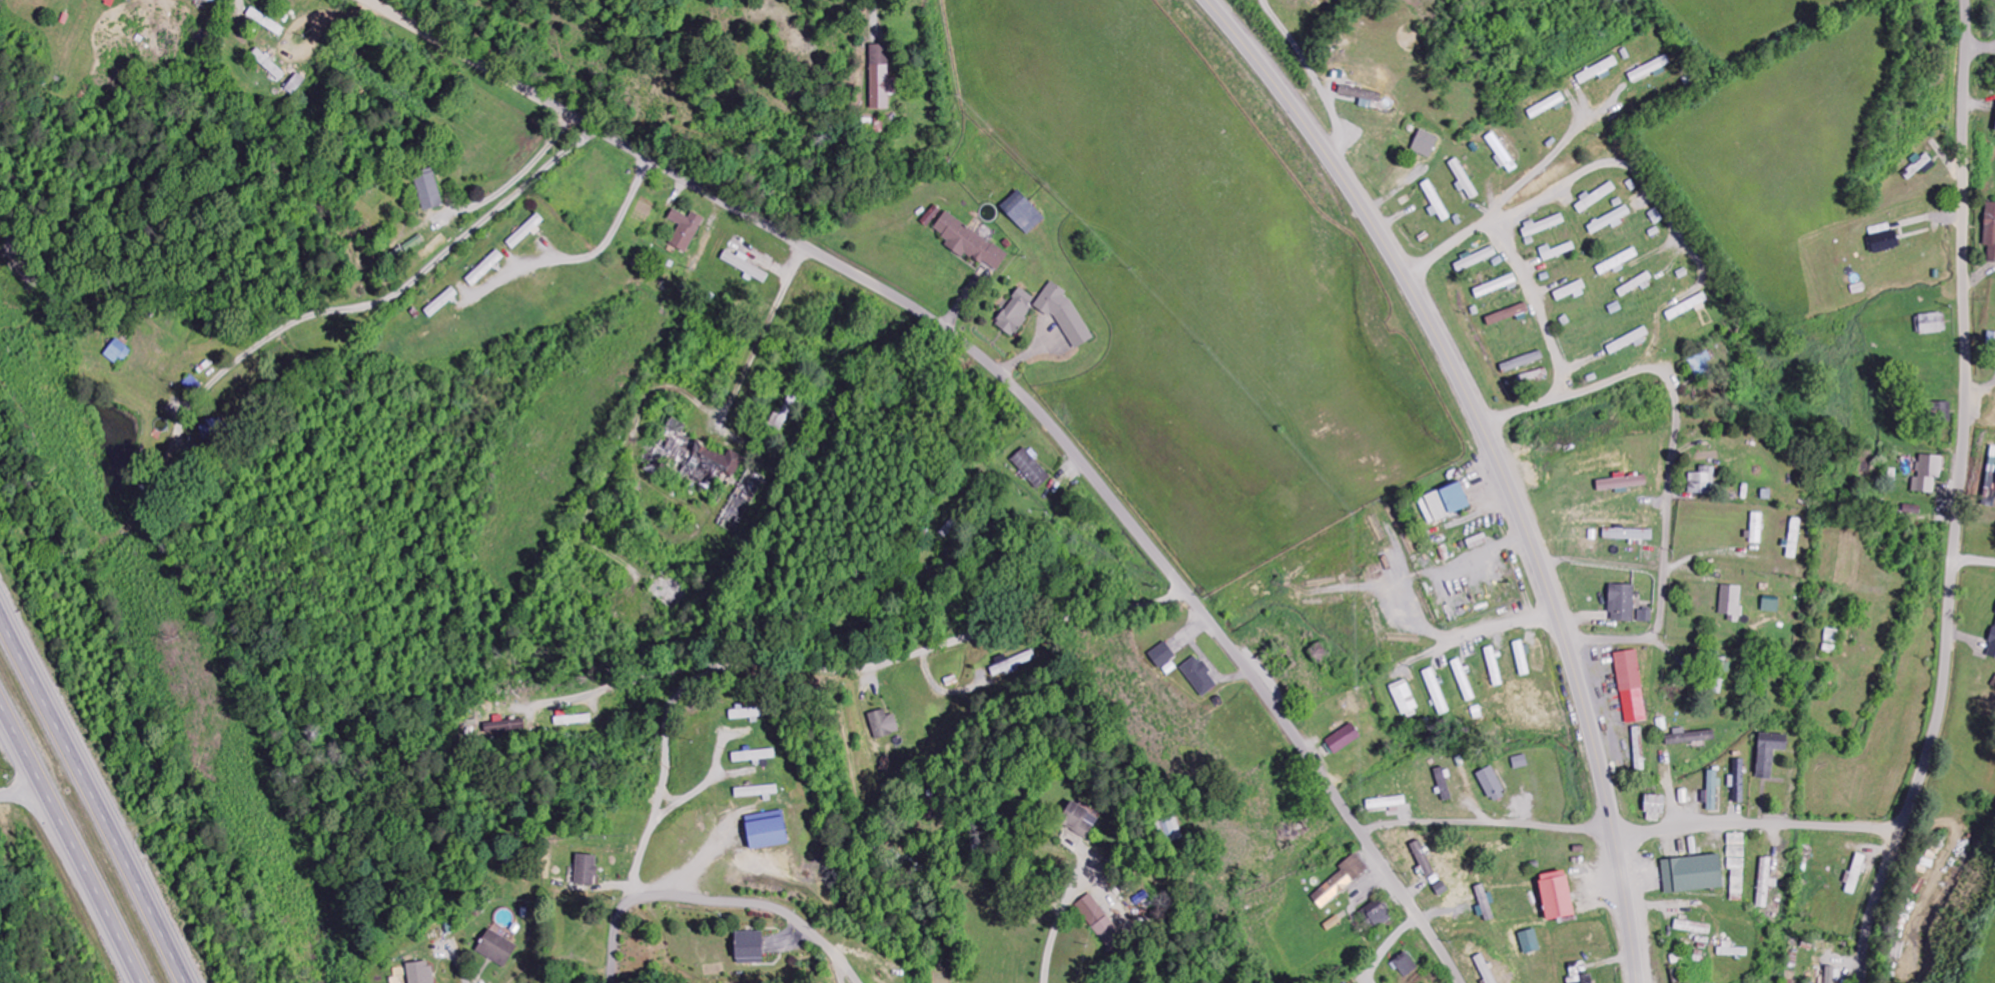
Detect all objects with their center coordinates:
building: (212, 0)
building: (110, 1)
park: (1318, 16)
road: (1981, 49)
building: (269, 65)
building: (1650, 69)
building: (1599, 71)
building: (881, 76)
building: (295, 84)
building: (1362, 96)
road: (603, 132)
building: (1425, 144)
building: (1501, 152)
building: (1463, 178)
building: (429, 190)
building: (1596, 198)
building: (1022, 213)
building: (1609, 221)
building: (1542, 226)
building: (684, 230)
building: (1990, 231)
building: (526, 232)
building: (1885, 241)
building: (969, 243)
building: (1556, 252)
building: (1475, 260)
building: (1618, 262)
building: (485, 269)
road: (417, 272)
building: (1497, 286)
building: (1636, 286)
building: (1571, 291)
building: (441, 303)
building: (1688, 307)
building: (1016, 312)
building: (1063, 315)
building: (1932, 324)
building: (1991, 341)
building: (116, 352)
building: (1522, 362)
building: (1939, 411)
building: (784, 415)
building: (671, 443)
road: (1498, 458)
building: (714, 461)
building: (1031, 468)
building: (1928, 474)
building: (1703, 481)
building: (1990, 495)
road: (1960, 497)
building: (1447, 501)
building: (1757, 528)
building: (1628, 534)
building: (1794, 538)
road: (1185, 589)
building: (1731, 602)
building: (1622, 603)
building: (1645, 615)
building: (1992, 647)
building: (1162, 655)
building: (1522, 658)
building: (1014, 665)
building: (1494, 666)
building: (1719, 675)
building: (1199, 676)
building: (1464, 680)
building: (1631, 686)
building: (1437, 692)
building: (1404, 697)
building: (748, 715)
building: (883, 724)
building: (506, 729)
building: (1690, 737)
building: (1343, 739)
building: (1639, 748)
building: (1769, 753)
building: (754, 756)
building: (1738, 781)
building: (1443, 784)
building: (1492, 784)
road: (97, 791)
building: (1711, 792)
building: (1387, 803)
building: (1655, 808)
building: (1077, 819)
road: (1487, 823)
road: (1757, 823)
building: (1170, 828)
building: (766, 830)
road: (69, 843)
building: (1423, 859)
building: (1737, 865)
building: (586, 870)
building: (1692, 874)
building: (1855, 875)
building: (1340, 881)
building: (1766, 882)
building: (1556, 895)
road: (717, 901)
building: (1484, 904)
building: (1378, 914)
building: (1099, 920)
building: (1693, 928)
building: (1530, 941)
building: (496, 948)
building: (748, 948)
building: (1701, 950)
building: (1406, 965)
building: (1485, 969)
building: (420, 972)
building: (1830, 976)

